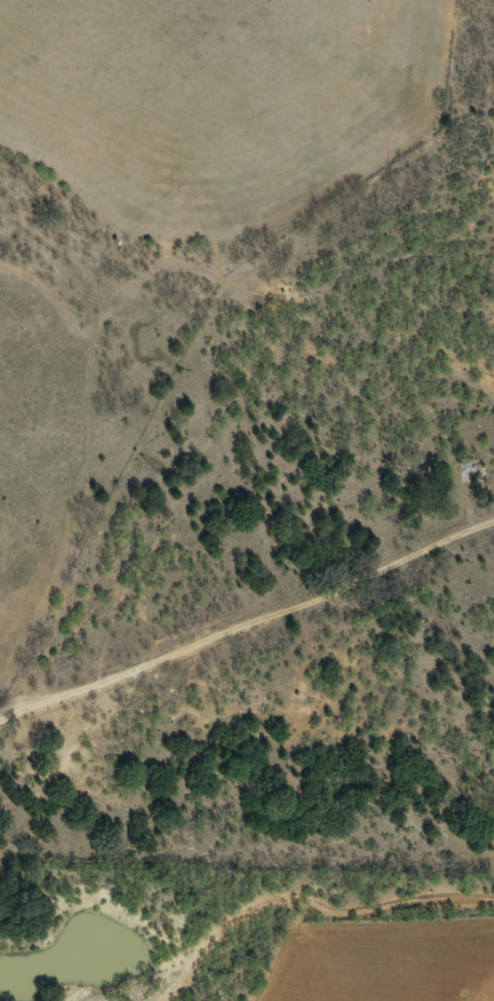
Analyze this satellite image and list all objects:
road: (247, 645)

